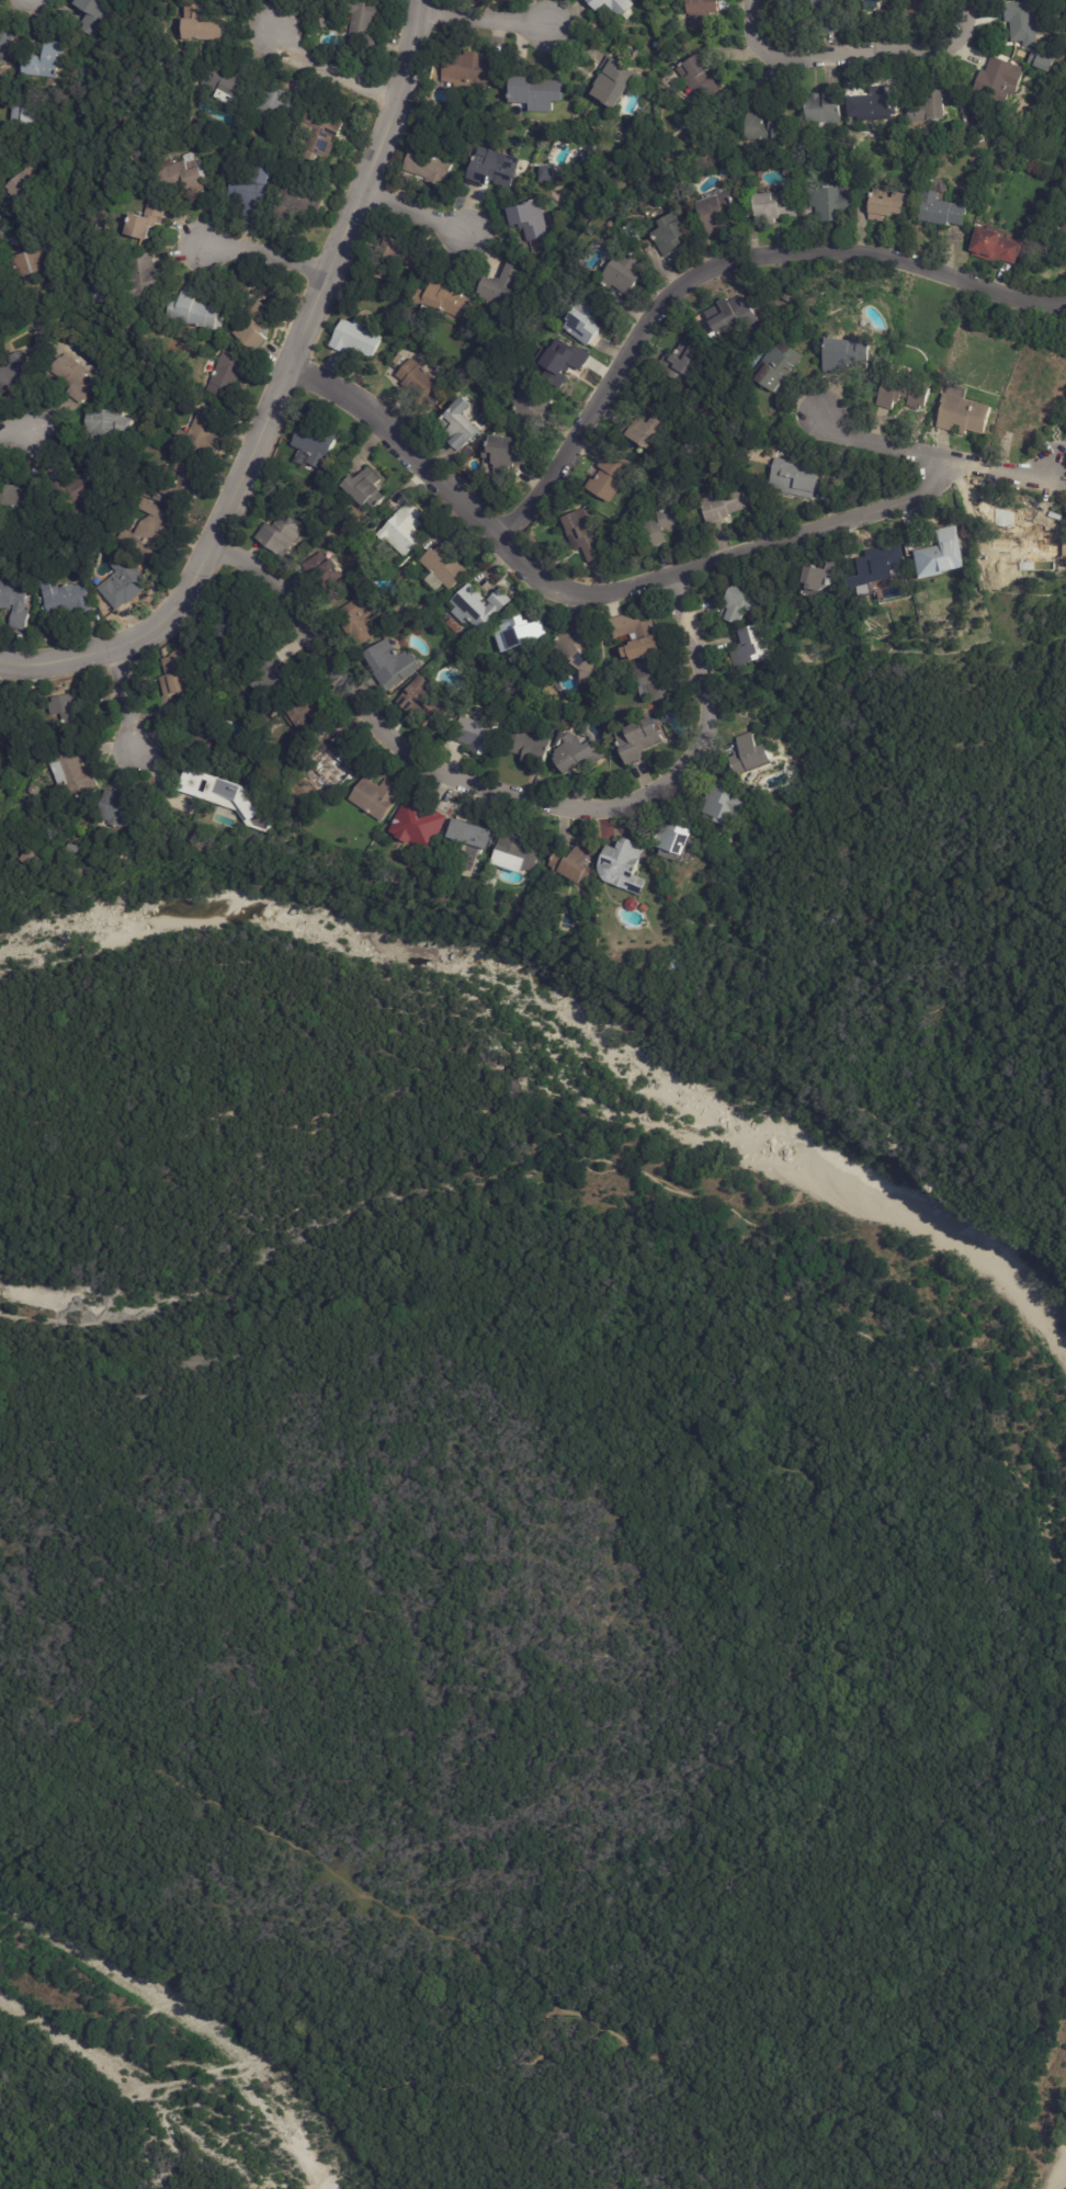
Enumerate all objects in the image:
building: (614, 5)
building: (707, 12)
building: (912, 13)
building: (95, 14)
building: (821, 15)
road: (480, 20)
building: (1021, 21)
building: (209, 22)
building: (365, 23)
building: (4, 38)
road: (851, 56)
building: (44, 60)
building: (1039, 61)
building: (475, 69)
road: (331, 72)
building: (702, 76)
building: (617, 80)
building: (995, 81)
building: (230, 84)
building: (532, 92)
building: (279, 103)
building: (575, 104)
building: (871, 104)
building: (819, 107)
building: (925, 107)
building: (570, 115)
building: (23, 118)
building: (763, 126)
building: (548, 135)
building: (322, 137)
building: (973, 137)
building: (593, 154)
building: (1, 161)
building: (430, 168)
building: (495, 168)
building: (548, 173)
building: (185, 175)
building: (26, 192)
building: (252, 192)
building: (300, 204)
building: (828, 204)
building: (884, 206)
building: (769, 208)
building: (940, 212)
road: (412, 214)
building: (722, 214)
building: (531, 219)
building: (149, 220)
building: (1063, 230)
building: (672, 234)
building: (991, 248)
road: (265, 254)
building: (34, 256)
building: (402, 261)
road: (717, 266)
building: (625, 272)
building: (384, 273)
building: (147, 276)
building: (249, 277)
building: (501, 287)
building: (4, 290)
building: (98, 291)
building: (447, 298)
building: (197, 310)
building: (733, 315)
building: (589, 319)
building: (256, 336)
building: (358, 339)
building: (848, 354)
building: (564, 363)
building: (683, 363)
building: (785, 366)
building: (14, 372)
building: (233, 372)
building: (73, 378)
building: (421, 382)
building: (766, 387)
building: (901, 394)
road: (276, 396)
building: (537, 409)
building: (957, 415)
building: (1024, 415)
building: (102, 426)
building: (464, 426)
building: (646, 432)
road: (16, 434)
building: (205, 435)
building: (317, 442)
building: (507, 454)
road: (933, 457)
building: (612, 476)
building: (330, 477)
building: (795, 479)
building: (184, 481)
building: (367, 488)
building: (80, 490)
building: (132, 496)
building: (21, 497)
building: (727, 507)
building: (631, 513)
road: (470, 514)
building: (316, 522)
building: (665, 525)
building: (406, 529)
road: (818, 531)
building: (152, 533)
building: (282, 533)
building: (587, 536)
building: (1016, 548)
building: (84, 553)
building: (940, 557)
building: (445, 566)
building: (873, 567)
building: (327, 572)
building: (819, 579)
building: (125, 585)
building: (70, 601)
building: (740, 602)
building: (15, 603)
building: (480, 606)
building: (361, 619)
building: (233, 622)
building: (525, 630)
building: (642, 634)
building: (753, 646)
building: (581, 653)
building: (230, 658)
building: (396, 663)
building: (180, 674)
building: (659, 677)
building: (274, 680)
road: (128, 693)
building: (1, 703)
building: (426, 703)
building: (517, 706)
building: (78, 714)
building: (310, 715)
building: (0, 717)
building: (0, 735)
building: (200, 735)
building: (479, 736)
building: (643, 737)
building: (530, 747)
building: (752, 753)
building: (577, 755)
building: (338, 764)
building: (75, 774)
building: (35, 790)
building: (189, 793)
road: (503, 795)
building: (379, 797)
building: (729, 802)
building: (247, 807)
building: (121, 812)
building: (422, 823)
building: (678, 836)
building: (473, 837)
building: (79, 848)
building: (520, 850)
building: (37, 854)
building: (576, 865)
building: (625, 866)
building: (634, 905)
building: (647, 909)
building: (679, 966)
road: (118, 1105)
park: (546, 1504)
road: (869, 1546)
road: (275, 1842)

